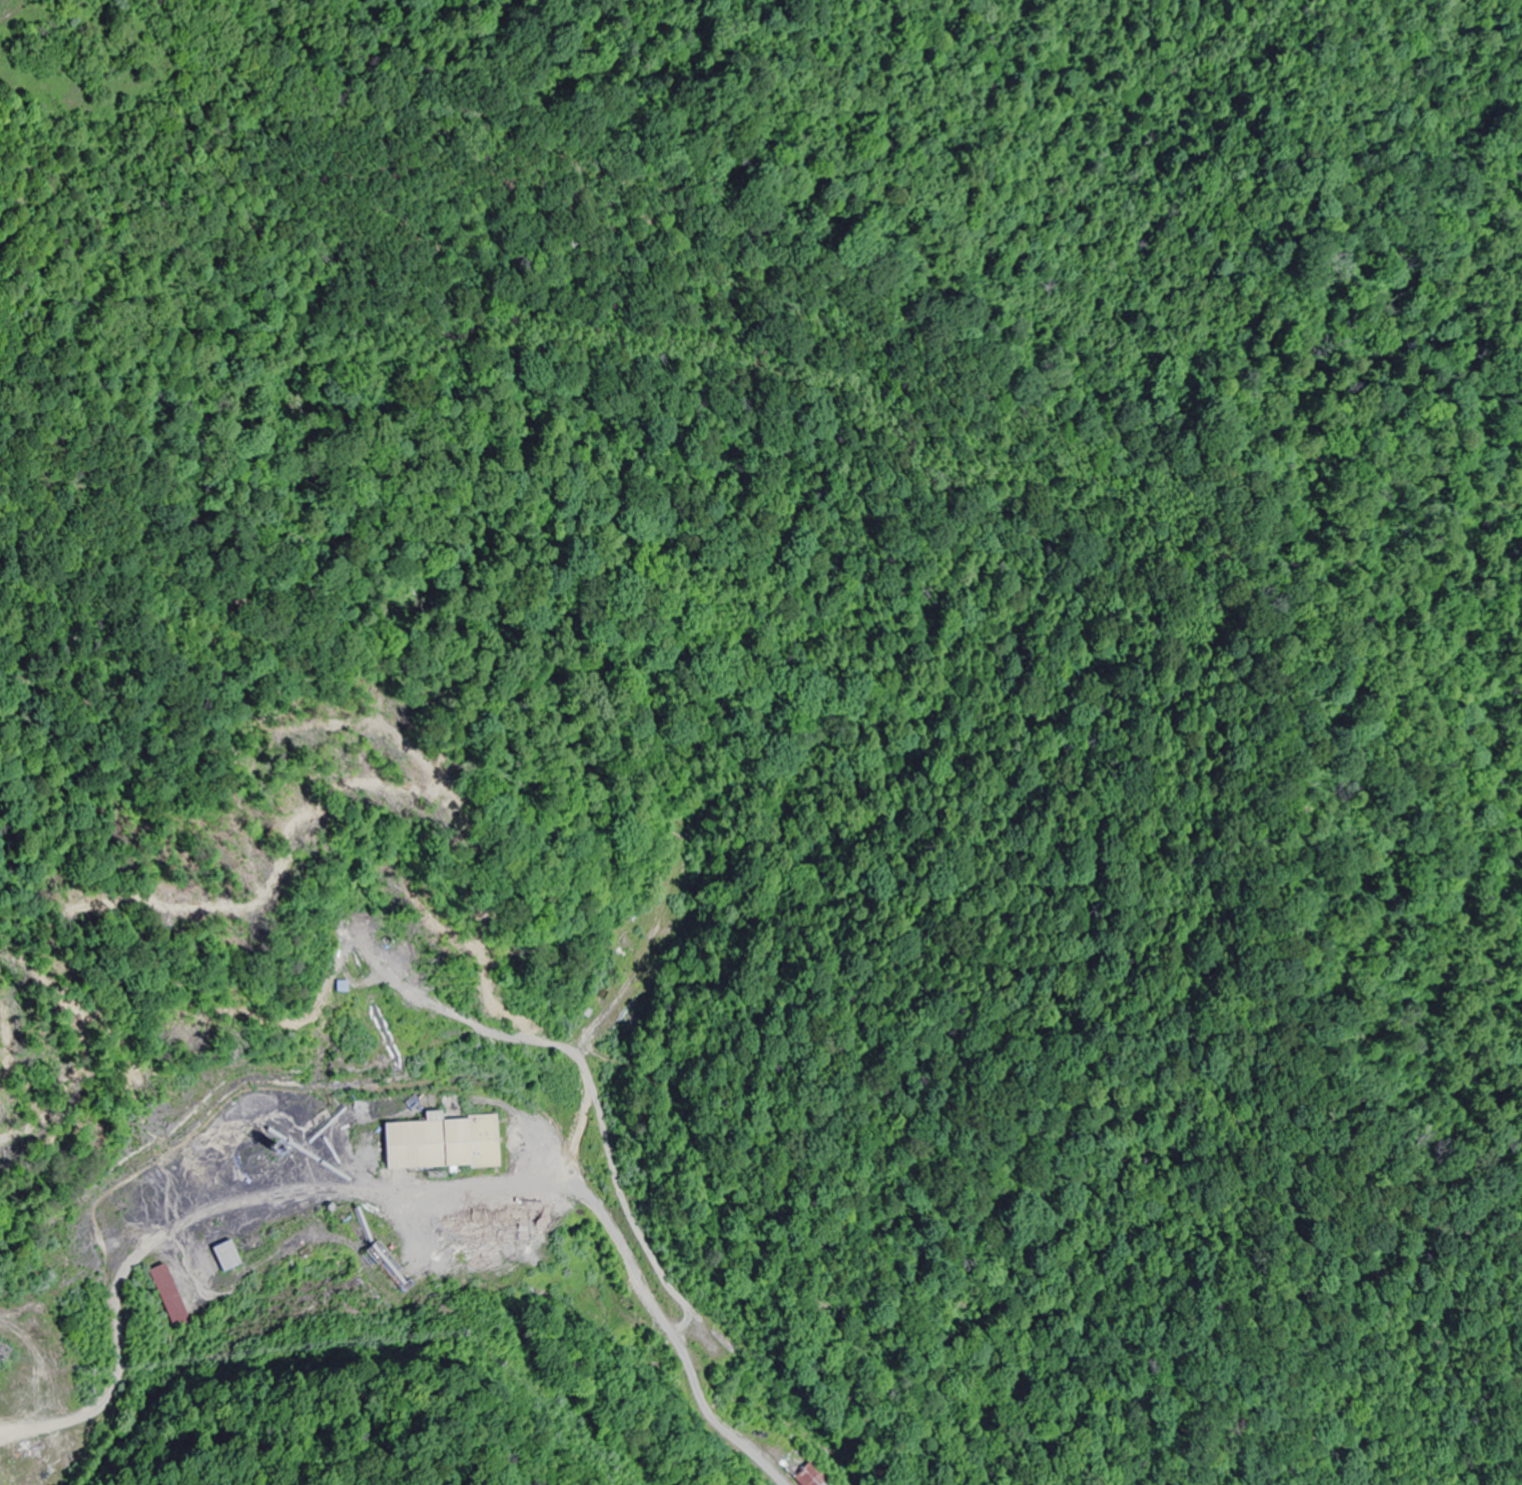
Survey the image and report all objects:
building: (624, 941)
building: (437, 1138)
building: (220, 1255)
road: (502, 1268)
building: (165, 1295)
building: (717, 1335)
building: (805, 1471)

